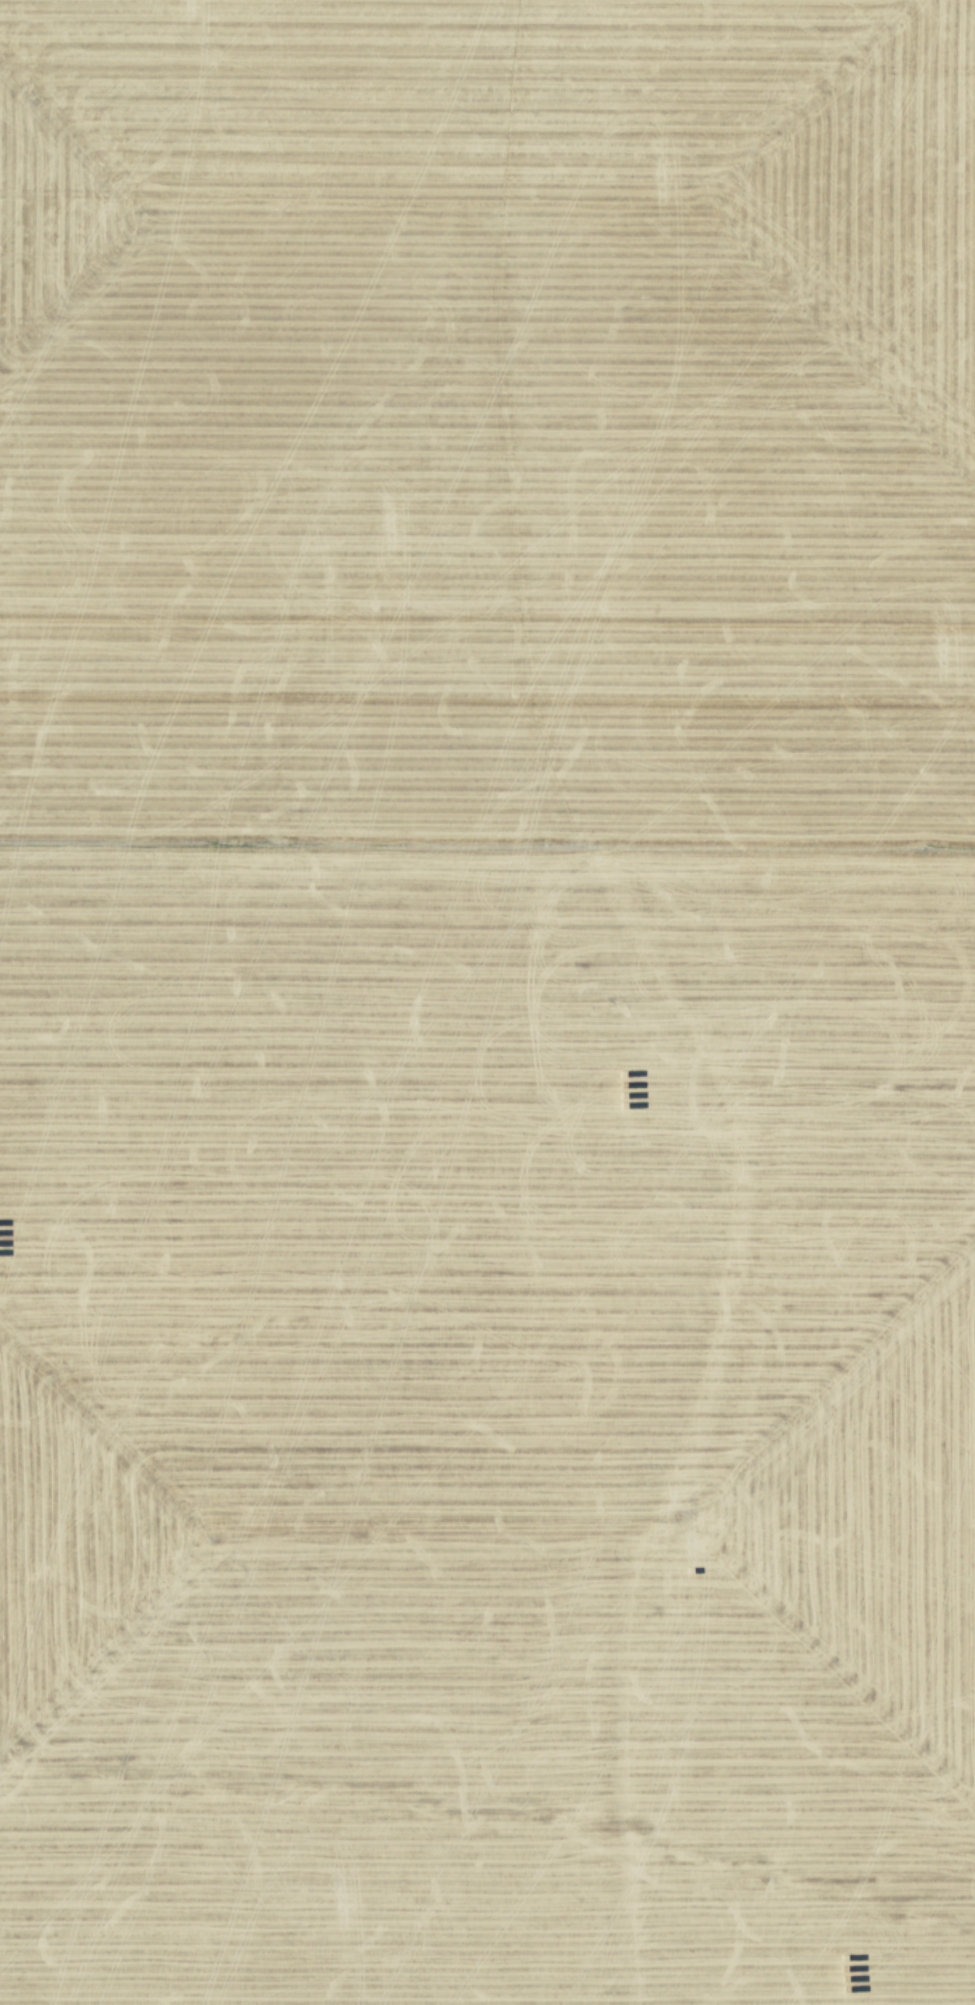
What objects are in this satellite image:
crop: (487, 1002)

